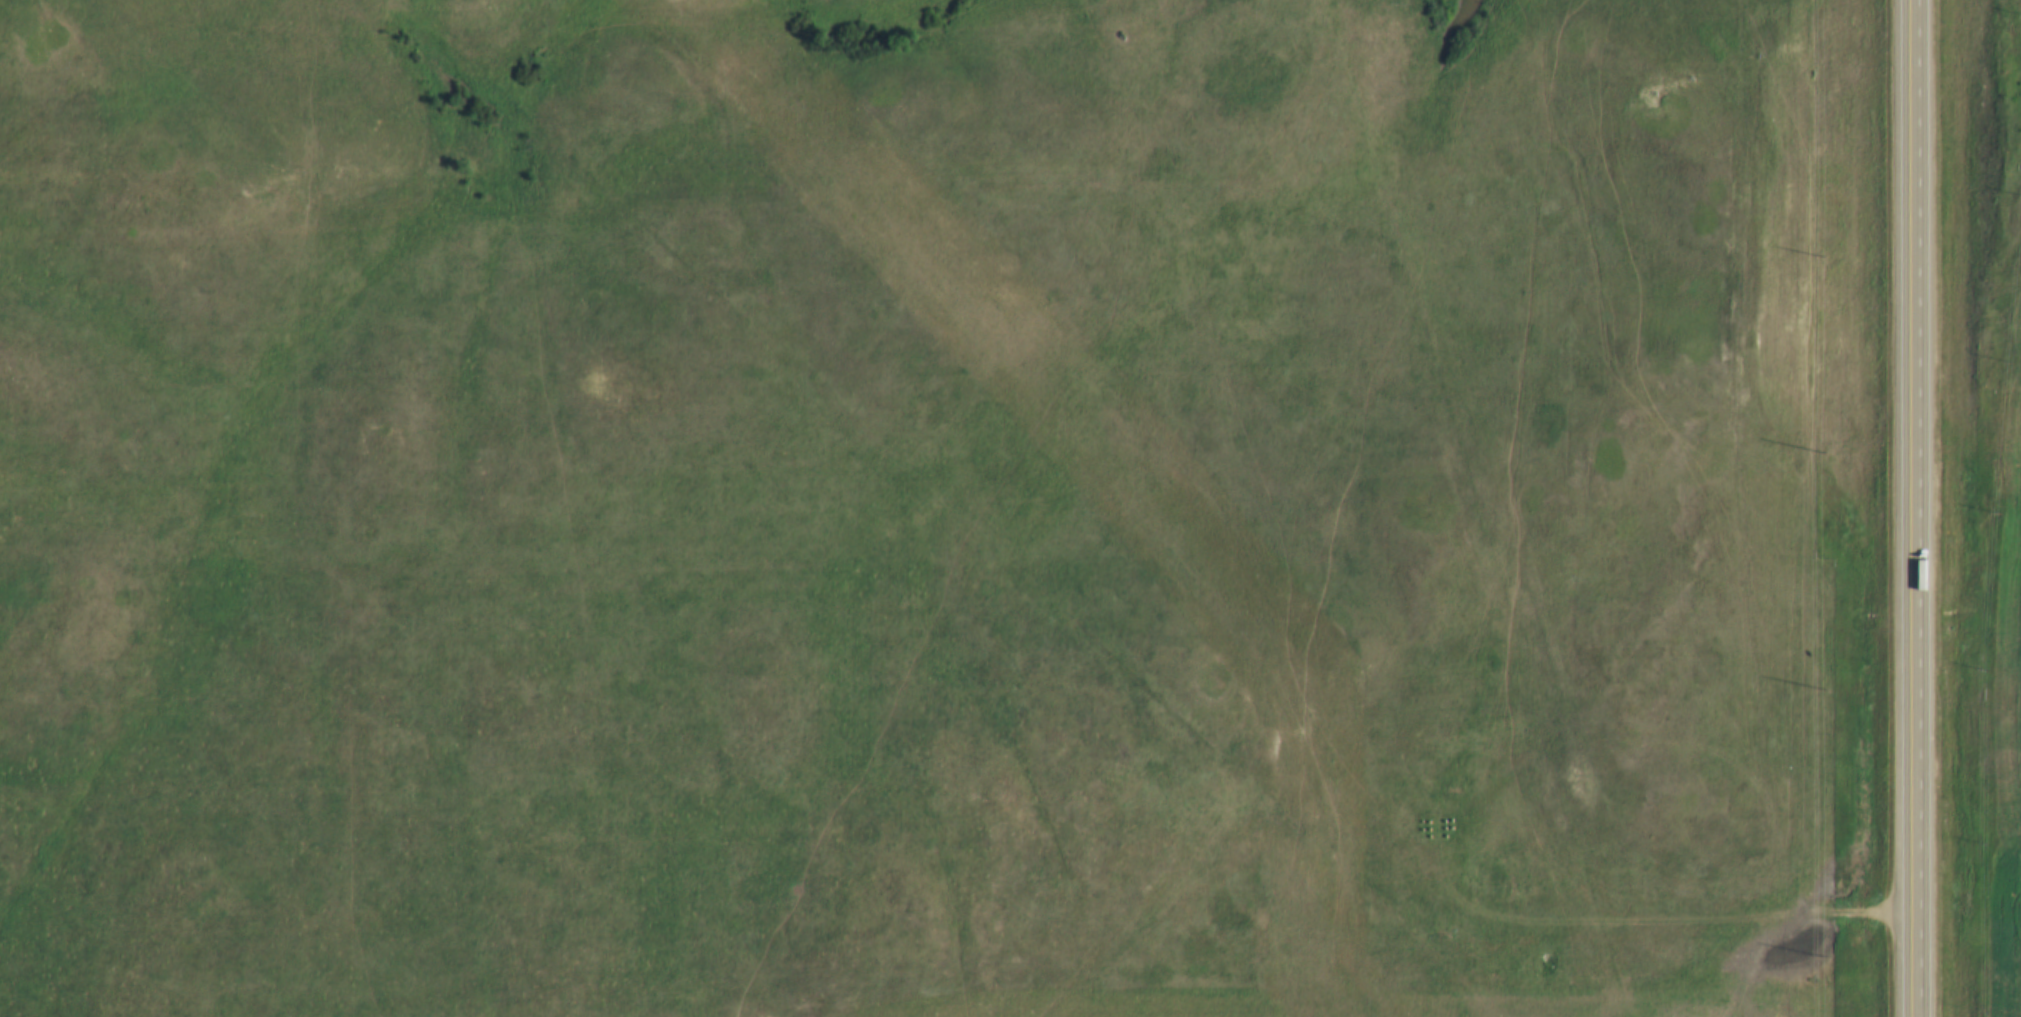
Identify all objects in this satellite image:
road: (1913, 508)
road: (1762, 867)

